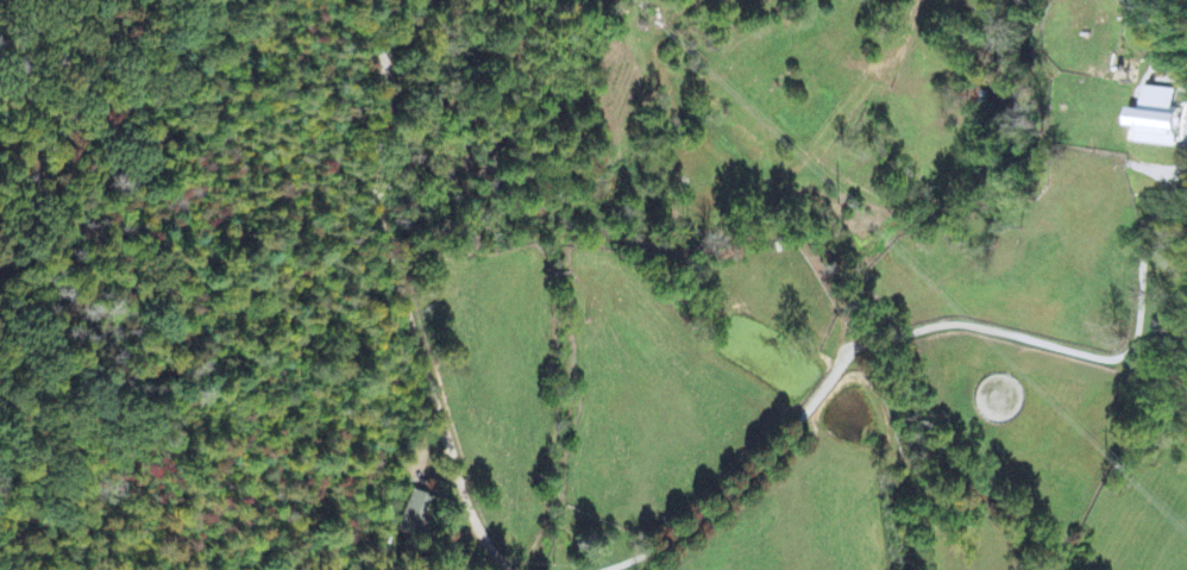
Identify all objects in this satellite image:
building: (1151, 123)
road: (401, 294)
building: (413, 520)

